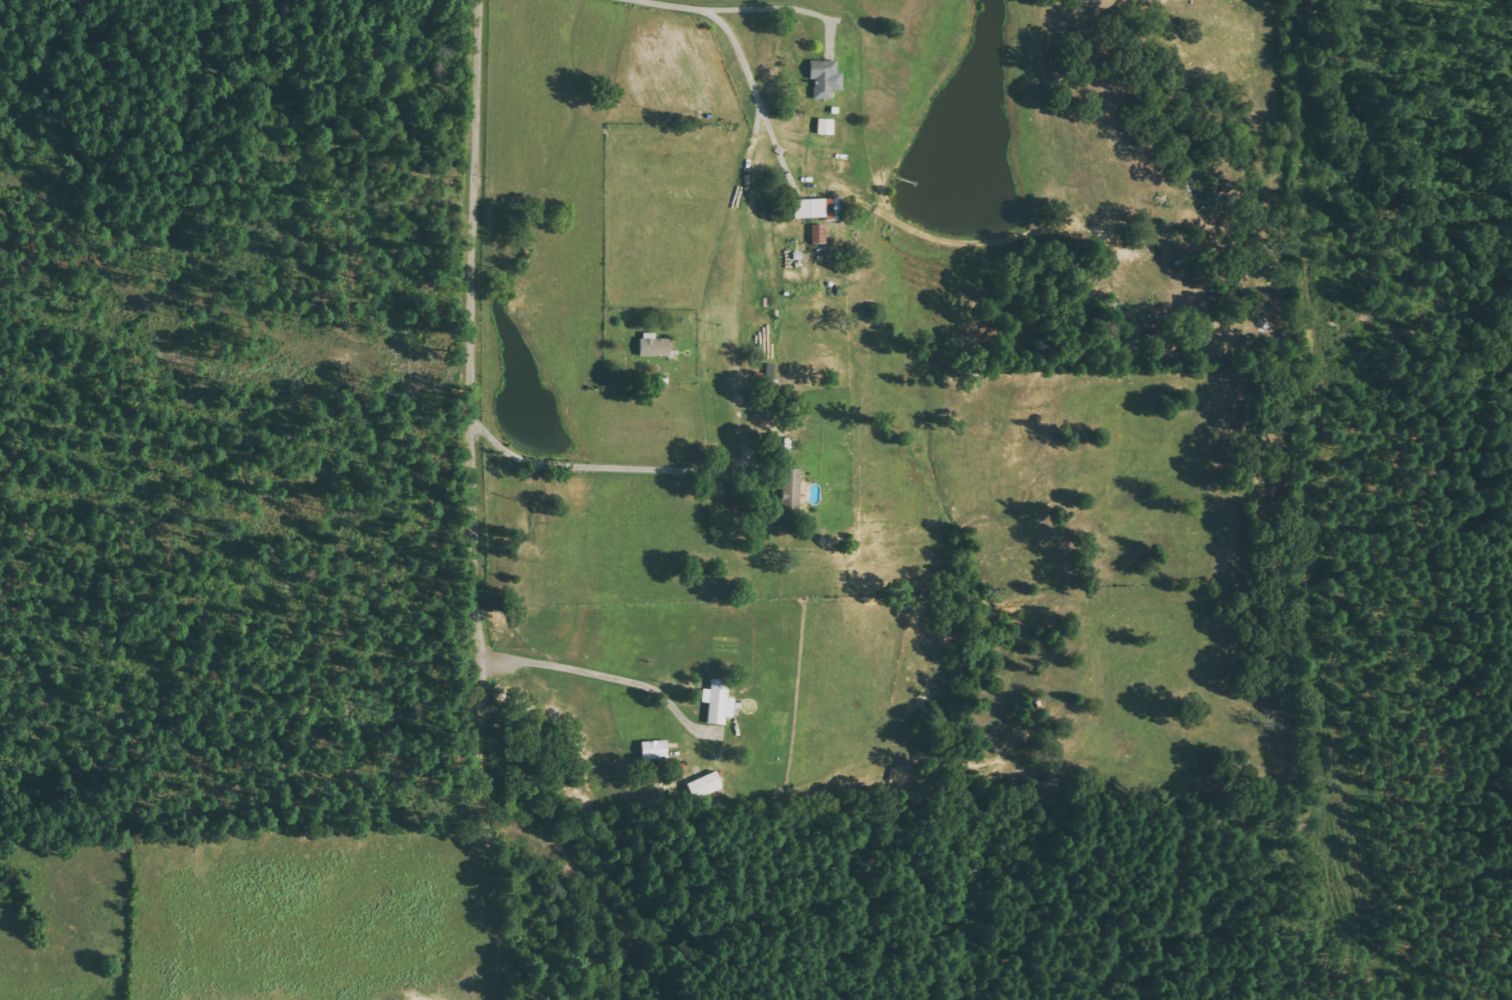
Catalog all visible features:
building: (823, 79)
building: (823, 126)
building: (814, 208)
building: (815, 234)
building: (652, 345)
building: (788, 491)
road: (476, 500)
building: (716, 702)
building: (652, 750)
building: (705, 786)

